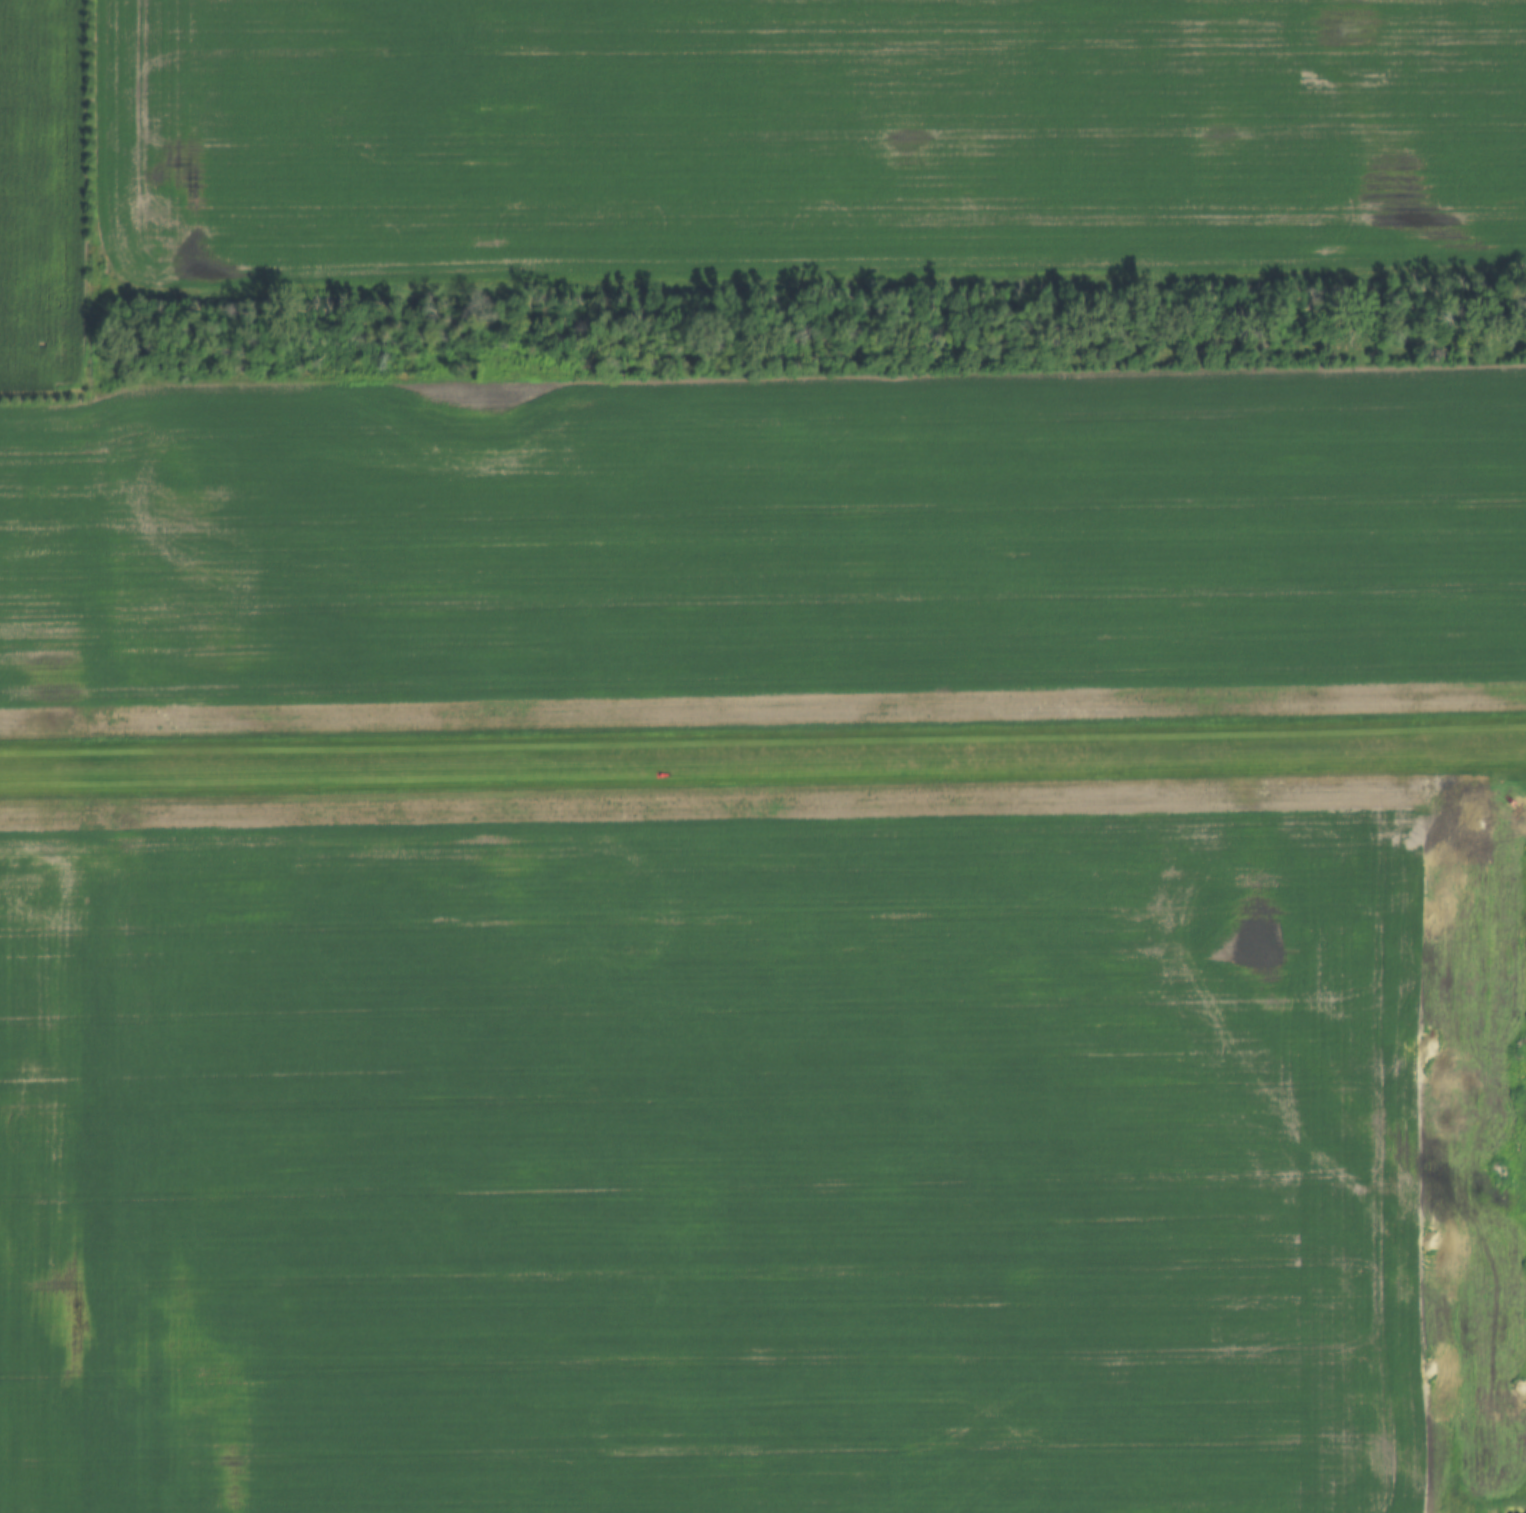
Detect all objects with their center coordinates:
road: (831, 273)
airport runway: (763, 758)

